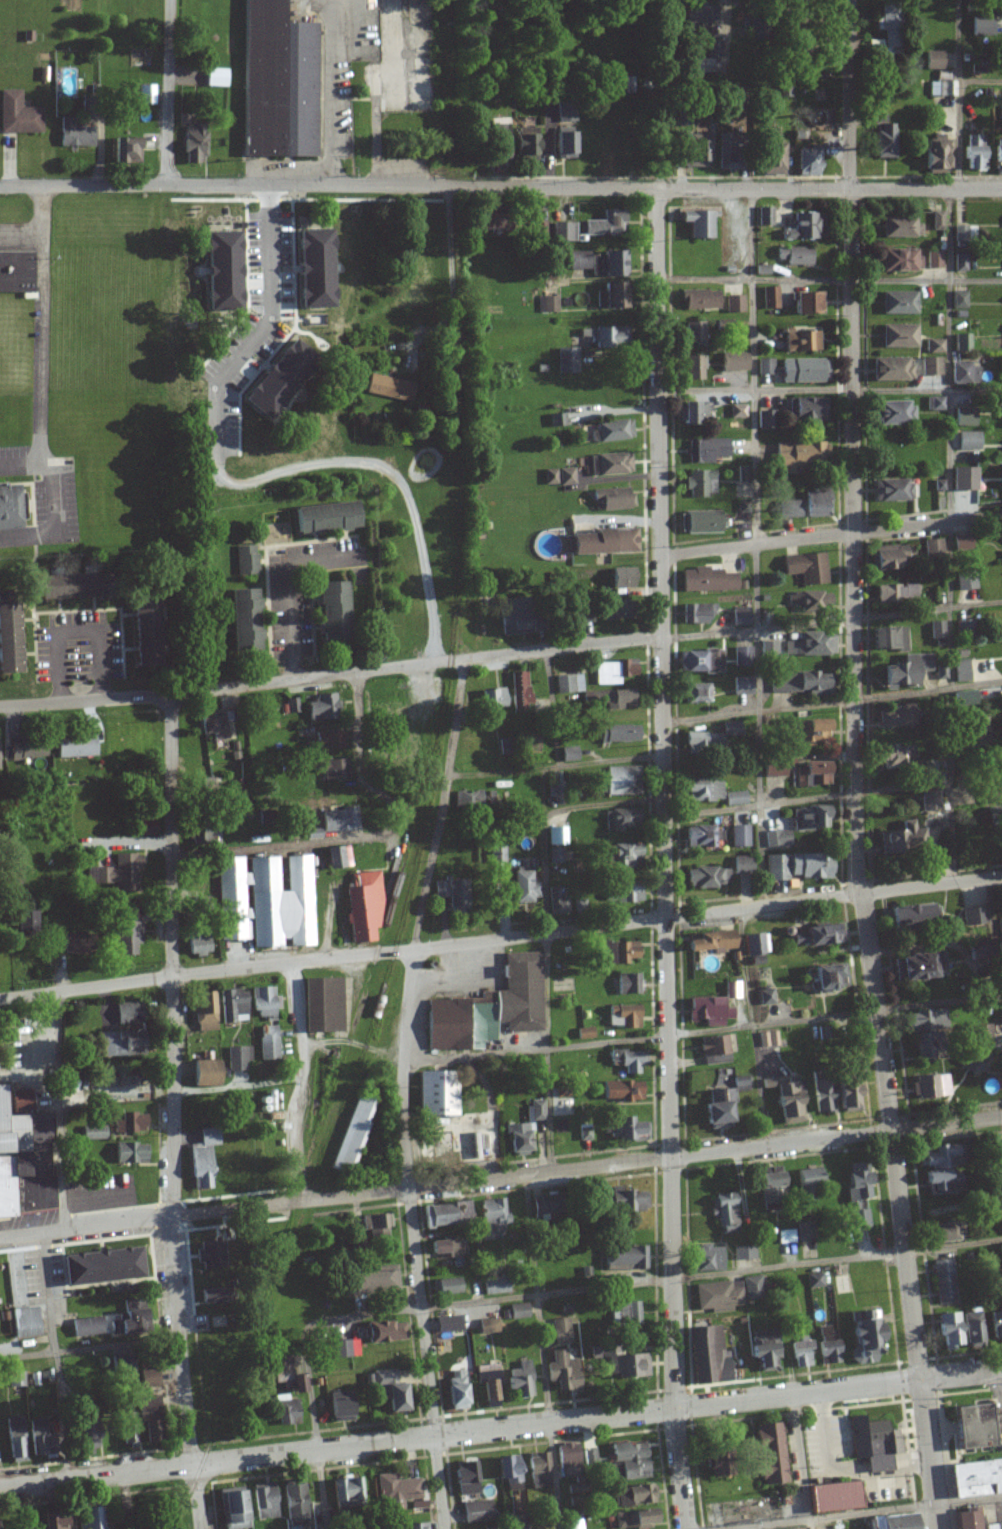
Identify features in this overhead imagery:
building: (700, 13)
building: (981, 26)
building: (888, 31)
building: (715, 49)
building: (934, 60)
building: (274, 76)
building: (216, 78)
road: (980, 79)
building: (625, 85)
building: (944, 85)
road: (166, 92)
road: (332, 92)
building: (144, 95)
building: (17, 115)
building: (74, 134)
building: (501, 136)
building: (884, 137)
building: (193, 144)
building: (563, 144)
building: (528, 145)
building: (125, 150)
building: (698, 151)
building: (727, 151)
building: (974, 153)
building: (936, 154)
building: (773, 156)
building: (808, 160)
building: (998, 161)
road: (328, 185)
road: (829, 188)
building: (765, 216)
building: (485, 219)
building: (938, 221)
building: (697, 224)
building: (604, 225)
building: (804, 227)
building: (900, 227)
road: (21, 228)
building: (551, 231)
road: (748, 234)
building: (794, 256)
building: (579, 260)
building: (934, 260)
building: (900, 261)
building: (960, 263)
building: (611, 265)
building: (310, 269)
building: (219, 271)
building: (16, 272)
road: (449, 277)
road: (828, 280)
building: (611, 297)
building: (771, 298)
building: (700, 300)
building: (960, 300)
building: (808, 303)
building: (899, 303)
building: (548, 304)
building: (735, 304)
building: (694, 334)
building: (899, 336)
building: (606, 337)
road: (43, 340)
building: (801, 341)
road: (950, 342)
building: (963, 343)
building: (935, 346)
building: (566, 361)
building: (734, 362)
building: (766, 366)
building: (932, 366)
building: (692, 368)
building: (892, 369)
building: (805, 371)
building: (965, 374)
building: (277, 377)
building: (391, 388)
road: (829, 390)
building: (936, 404)
building: (809, 409)
building: (738, 411)
building: (693, 413)
building: (894, 413)
building: (1001, 416)
building: (966, 417)
building: (557, 420)
building: (764, 420)
building: (612, 431)
building: (970, 441)
building: (706, 450)
building: (800, 457)
building: (607, 465)
building: (742, 474)
building: (559, 477)
building: (965, 479)
building: (1001, 479)
road: (246, 483)
building: (701, 483)
building: (893, 490)
building: (612, 499)
building: (807, 506)
building: (10, 507)
building: (326, 519)
building: (700, 522)
railway: (459, 530)
road: (830, 536)
building: (601, 543)
building: (959, 543)
building: (904, 554)
building: (246, 560)
building: (808, 568)
building: (620, 579)
building: (708, 580)
building: (966, 581)
building: (64, 588)
road: (289, 592)
building: (896, 594)
building: (809, 602)
building: (613, 609)
building: (330, 612)
building: (577, 612)
building: (698, 614)
building: (740, 617)
building: (510, 618)
building: (243, 621)
road: (830, 621)
building: (965, 628)
building: (938, 630)
building: (141, 633)
building: (889, 639)
building: (8, 640)
building: (813, 645)
road: (757, 647)
building: (770, 649)
building: (743, 656)
building: (700, 662)
building: (961, 671)
building: (613, 672)
building: (906, 672)
building: (941, 673)
road: (329, 675)
building: (800, 683)
building: (570, 684)
building: (743, 687)
building: (518, 692)
building: (694, 694)
building: (615, 698)
building: (963, 698)
building: (492, 699)
road: (833, 702)
road: (552, 708)
building: (321, 709)
building: (894, 715)
building: (392, 722)
building: (983, 724)
building: (214, 726)
building: (814, 732)
building: (618, 734)
building: (713, 737)
building: (329, 743)
building: (75, 746)
building: (20, 752)
building: (568, 754)
building: (897, 755)
building: (813, 763)
road: (856, 766)
building: (775, 767)
building: (333, 770)
building: (812, 776)
building: (204, 780)
building: (621, 780)
building: (555, 785)
building: (705, 791)
building: (735, 797)
building: (468, 799)
building: (930, 800)
road: (604, 804)
road: (760, 806)
building: (810, 817)
building: (620, 818)
building: (338, 819)
building: (141, 823)
building: (701, 835)
building: (740, 835)
building: (778, 838)
building: (902, 838)
road: (369, 839)
building: (624, 855)
building: (337, 856)
road: (666, 858)
building: (743, 865)
building: (798, 865)
building: (119, 874)
building: (707, 877)
building: (524, 887)
building: (452, 893)
building: (623, 893)
road: (834, 896)
building: (265, 901)
building: (557, 902)
building: (362, 906)
road: (547, 913)
building: (915, 914)
building: (23, 921)
building: (999, 926)
building: (127, 931)
building: (822, 934)
building: (73, 939)
building: (198, 941)
building: (711, 941)
building: (755, 943)
building: (617, 951)
road: (334, 957)
building: (919, 966)
building: (828, 977)
building: (625, 983)
building: (731, 989)
building: (765, 996)
building: (263, 1001)
building: (321, 1004)
building: (231, 1005)
building: (488, 1008)
building: (203, 1010)
building: (708, 1011)
building: (128, 1013)
railway: (356, 1013)
building: (622, 1015)
railway: (372, 1017)
road: (749, 1027)
building: (924, 1029)
road: (703, 1032)
building: (583, 1033)
building: (980, 1033)
building: (768, 1038)
building: (268, 1042)
building: (123, 1043)
building: (714, 1050)
building: (237, 1058)
building: (627, 1060)
building: (977, 1063)
building: (203, 1073)
building: (931, 1086)
building: (619, 1090)
road: (405, 1092)
building: (436, 1093)
building: (843, 1093)
building: (820, 1095)
road: (115, 1096)
building: (23, 1100)
road: (56, 1100)
building: (787, 1100)
building: (720, 1102)
building: (534, 1110)
road: (173, 1113)
building: (129, 1123)
building: (624, 1128)
building: (352, 1131)
building: (94, 1132)
road: (836, 1136)
building: (517, 1139)
building: (999, 1148)
building: (130, 1152)
building: (938, 1156)
building: (201, 1158)
building: (24, 1162)
building: (997, 1171)
building: (936, 1181)
building: (808, 1184)
building: (768, 1186)
building: (856, 1195)
road: (335, 1197)
building: (627, 1200)
building: (542, 1205)
building: (725, 1212)
building: (442, 1214)
building: (490, 1219)
building: (376, 1226)
building: (805, 1230)
building: (943, 1232)
building: (786, 1236)
building: (443, 1247)
building: (744, 1252)
building: (1000, 1253)
building: (209, 1254)
building: (623, 1257)
building: (706, 1258)
building: (97, 1266)
building: (381, 1277)
building: (814, 1280)
building: (943, 1281)
building: (493, 1285)
building: (443, 1286)
building: (752, 1287)
road: (552, 1293)
building: (718, 1296)
building: (513, 1312)
building: (624, 1312)
building: (994, 1319)
building: (25, 1322)
building: (446, 1324)
building: (487, 1326)
building: (85, 1327)
building: (115, 1327)
building: (971, 1328)
building: (948, 1329)
building: (382, 1331)
building: (560, 1331)
building: (826, 1346)
road: (88, 1347)
building: (344, 1348)
road: (543, 1353)
building: (801, 1353)
building: (707, 1355)
road: (55, 1356)
building: (120, 1365)
building: (627, 1365)
building: (561, 1371)
building: (286, 1375)
building: (148, 1378)
building: (15, 1379)
building: (519, 1380)
building: (487, 1384)
road: (838, 1388)
building: (387, 1389)
building: (455, 1391)
road: (791, 1398)
building: (340, 1406)
railway: (220, 1412)
building: (150, 1419)
building: (975, 1426)
building: (128, 1428)
building: (83, 1436)
building: (37, 1438)
building: (14, 1440)
building: (872, 1442)
road: (337, 1447)
building: (626, 1452)
building: (770, 1453)
building: (589, 1457)
building: (566, 1458)
building: (507, 1469)
building: (632, 1469)
building: (537, 1471)
building: (974, 1478)
building: (464, 1479)
building: (346, 1493)
building: (399, 1493)
building: (634, 1495)
building: (833, 1496)
building: (263, 1501)
building: (293, 1505)
road: (859, 1509)
building: (231, 1510)
building: (475, 1511)
building: (92, 1518)
building: (633, 1519)
building: (969, 1520)
building: (53, 1521)
building: (890, 1522)
building: (519, 1525)
building: (407, 1526)
building: (487, 1528)

